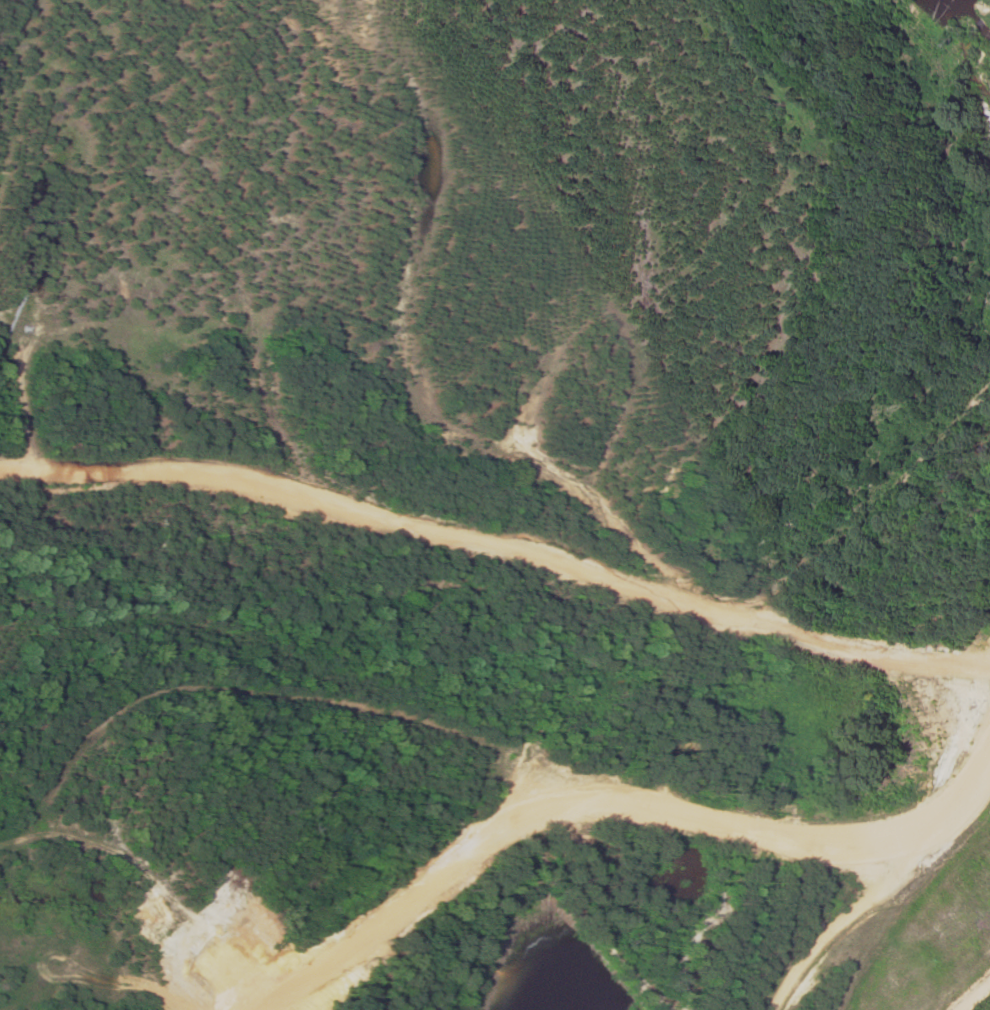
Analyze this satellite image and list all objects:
road: (498, 548)
road: (610, 804)

